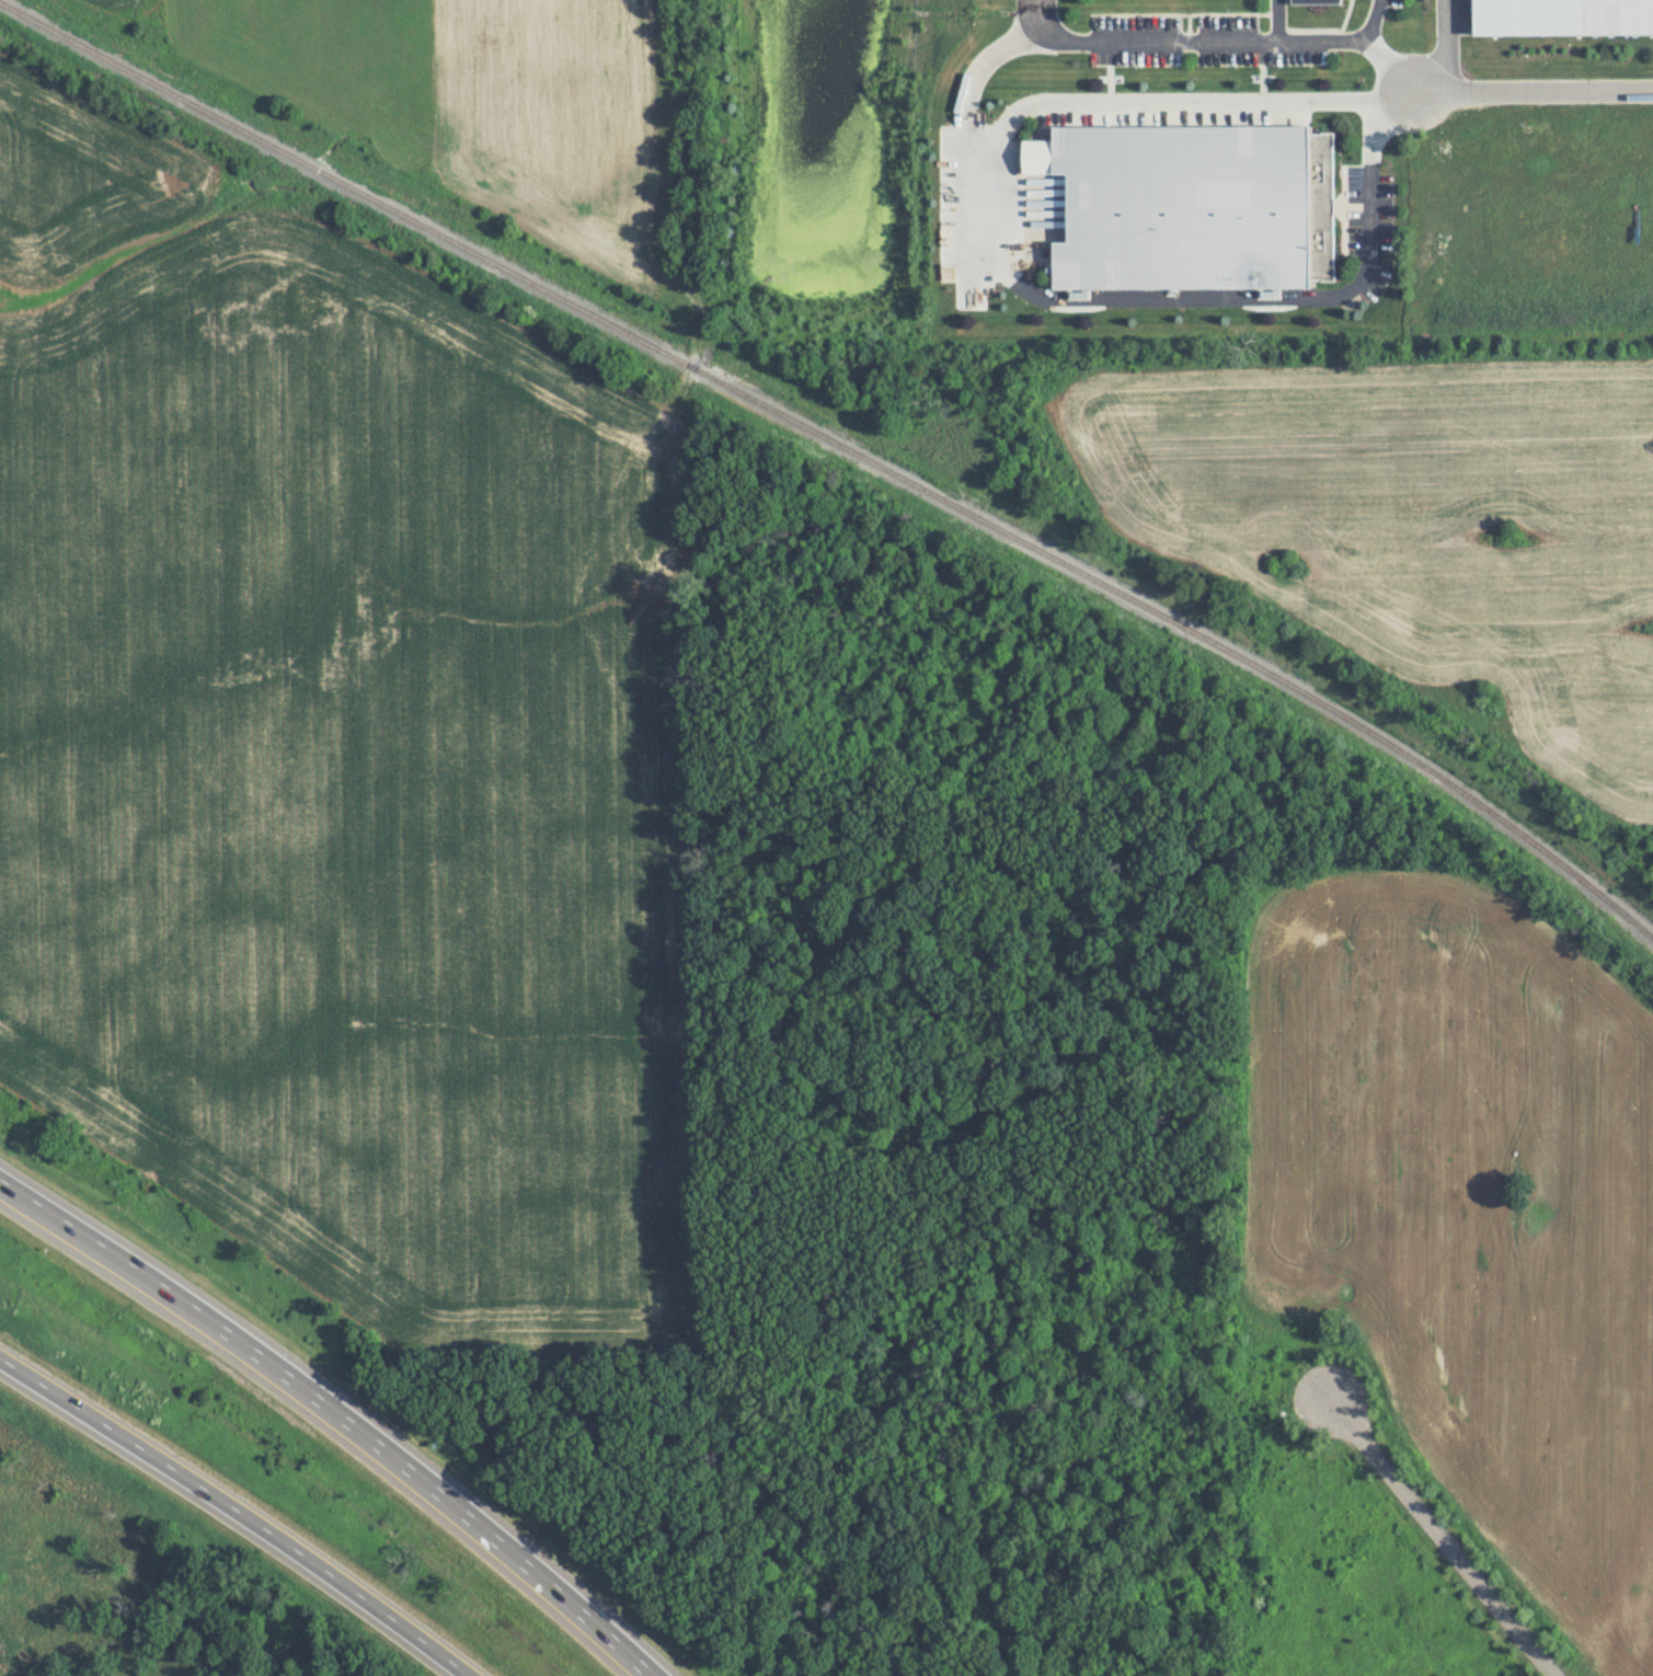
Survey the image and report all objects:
building: (1320, 1)
building: (1561, 18)
road: (1044, 21)
road: (1373, 21)
road: (1259, 41)
road: (1448, 47)
road: (986, 61)
road: (1533, 92)
building: (1195, 206)
road: (1001, 262)
railway: (841, 443)
road: (294, 1370)
road: (236, 1509)
road: (1442, 1536)
road: (615, 1633)

